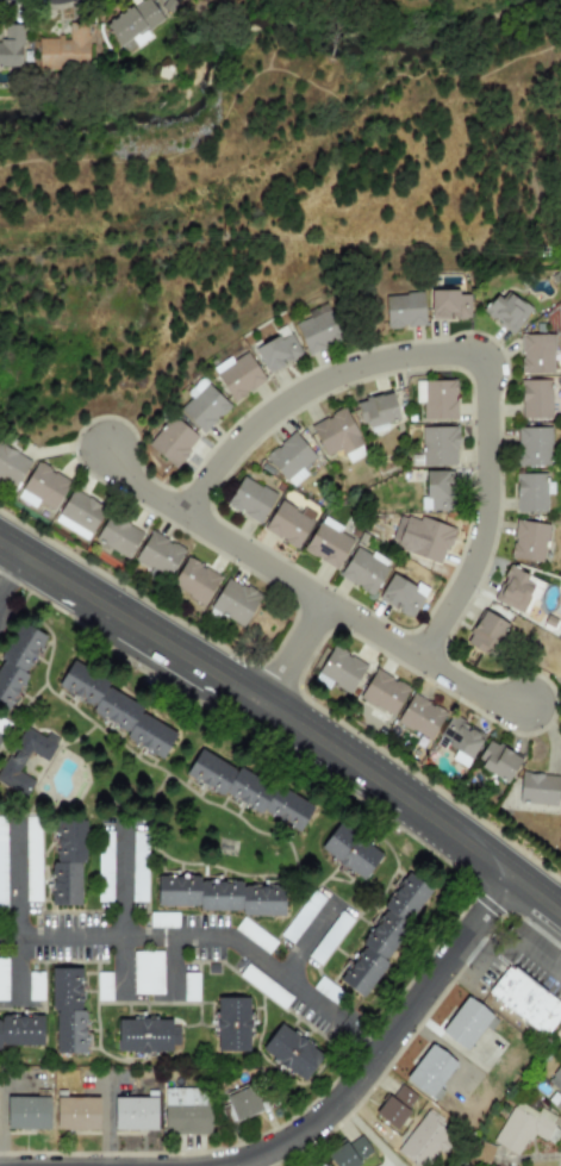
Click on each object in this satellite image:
building: (132, 24)
building: (11, 45)
building: (64, 49)
road: (270, 70)
building: (448, 304)
building: (403, 308)
building: (506, 310)
building: (317, 329)
building: (276, 351)
road: (456, 354)
building: (536, 354)
building: (238, 374)
building: (435, 398)
building: (534, 398)
building: (201, 405)
building: (375, 410)
building: (335, 432)
building: (172, 441)
building: (437, 445)
building: (532, 447)
building: (289, 459)
building: (11, 464)
building: (42, 487)
road: (142, 488)
building: (436, 491)
building: (531, 491)
building: (249, 499)
building: (80, 511)
building: (287, 523)
building: (118, 535)
building: (429, 540)
building: (528, 541)
building: (328, 542)
building: (158, 553)
building: (362, 569)
road: (10, 579)
building: (194, 580)
road: (304, 588)
building: (512, 588)
building: (400, 594)
building: (233, 601)
road: (130, 623)
building: (485, 631)
road: (293, 653)
building: (18, 662)
building: (339, 671)
road: (470, 687)
building: (382, 692)
building: (119, 711)
building: (419, 716)
building: (0, 721)
building: (459, 740)
building: (497, 760)
building: (13, 766)
road: (388, 786)
building: (536, 787)
building: (251, 790)
building: (355, 853)
building: (31, 858)
building: (67, 861)
building: (2, 862)
building: (104, 866)
building: (138, 866)
building: (223, 896)
road: (535, 896)
road: (18, 914)
road: (125, 915)
building: (300, 916)
building: (163, 918)
building: (254, 935)
building: (387, 936)
road: (207, 939)
road: (311, 939)
road: (175, 968)
building: (147, 972)
building: (2, 978)
building: (33, 985)
building: (102, 985)
building: (264, 985)
building: (525, 999)
road: (10, 1008)
building: (67, 1011)
building: (466, 1022)
building: (232, 1027)
building: (20, 1029)
building: (143, 1037)
road: (381, 1045)
building: (293, 1054)
building: (430, 1070)
building: (555, 1089)
building: (242, 1102)
building: (395, 1105)
building: (185, 1110)
building: (26, 1112)
building: (133, 1112)
building: (76, 1114)
road: (105, 1118)
building: (522, 1127)
building: (349, 1152)
building: (322, 1165)
building: (323, 1165)

